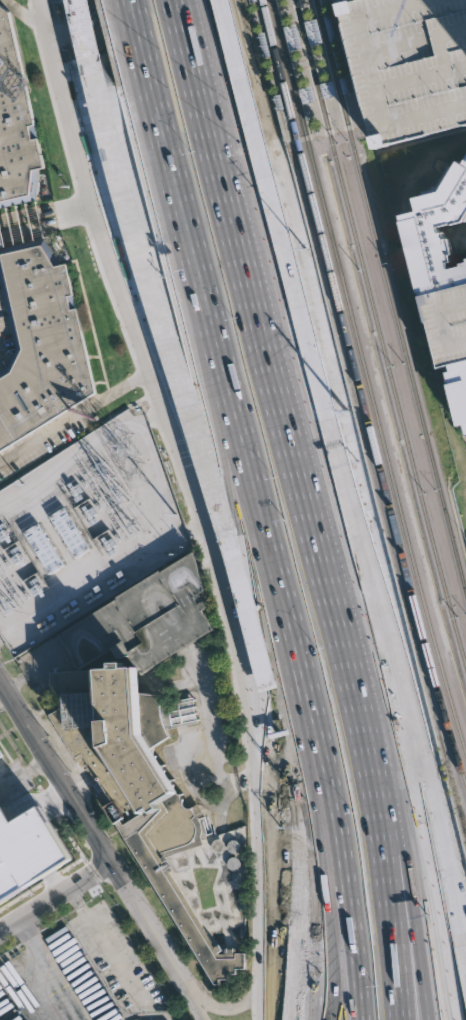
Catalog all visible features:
building: (251, 0)
road: (12, 7)
road: (34, 12)
road: (132, 19)
road: (137, 19)
building: (329, 25)
building: (313, 30)
building: (293, 35)
building: (264, 42)
power tower: (252, 56)
building: (409, 64)
parking garage: (409, 64)
road: (376, 73)
building: (344, 83)
building: (328, 87)
building: (307, 93)
building: (278, 100)
railway: (353, 121)
building: (14, 124)
road: (216, 124)
railway: (335, 126)
road: (337, 127)
railway: (315, 131)
road: (318, 132)
road: (323, 132)
railway: (287, 139)
road: (419, 139)
building: (112, 150)
road: (173, 171)
road: (65, 205)
road: (18, 216)
road: (69, 220)
building: (436, 228)
road: (20, 233)
building: (1, 243)
railway: (335, 250)
power tower: (305, 256)
railway: (390, 299)
building: (447, 317)
parking garage: (447, 317)
railway: (378, 335)
building: (39, 342)
road: (181, 367)
road: (145, 374)
road: (157, 385)
building: (458, 386)
road: (326, 389)
railway: (359, 392)
road: (69, 419)
power tower: (347, 421)
road: (290, 431)
road: (243, 454)
power tower: (135, 474)
power substation: (84, 530)
building: (35, 533)
building: (73, 536)
road: (243, 536)
building: (142, 617)
railway: (431, 625)
road: (43, 663)
road: (12, 679)
road: (208, 741)
building: (1, 752)
building: (0, 756)
building: (138, 781)
road: (222, 803)
road: (336, 810)
road: (399, 813)
road: (378, 816)
building: (29, 849)
road: (104, 853)
road: (270, 869)
road: (446, 870)
road: (314, 875)
road: (300, 876)
road: (55, 898)
road: (434, 900)
road: (111, 956)
road: (49, 969)
road: (269, 993)
road: (241, 1006)

